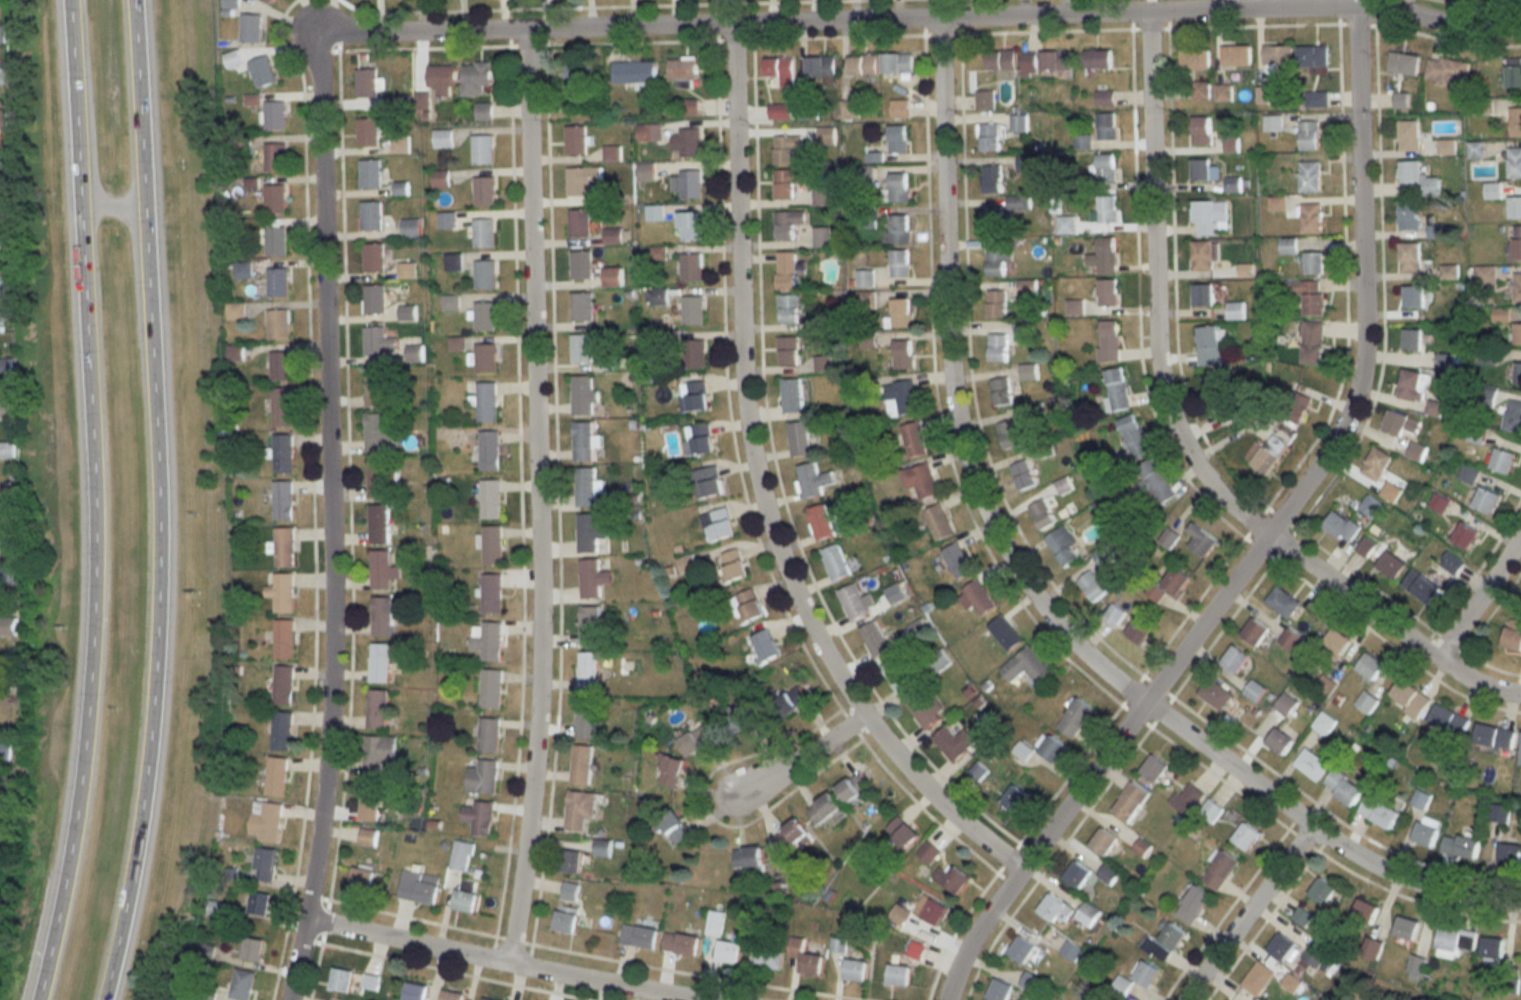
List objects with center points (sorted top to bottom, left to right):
building: (268, 0)
building: (264, 1)
building: (230, 3)
road: (1272, 5)
road: (922, 20)
building: (248, 27)
building: (1, 34)
building: (1235, 54)
building: (1277, 54)
building: (1312, 56)
building: (231, 59)
building: (1098, 59)
building: (1194, 59)
building: (1001, 60)
building: (897, 62)
building: (1029, 63)
building: (1056, 63)
building: (1404, 63)
building: (862, 64)
building: (820, 67)
building: (682, 69)
building: (780, 70)
building: (1447, 71)
building: (260, 72)
building: (634, 72)
building: (1, 75)
building: (1513, 75)
building: (474, 77)
building: (576, 77)
building: (440, 81)
building: (365, 83)
building: (1200, 90)
building: (1104, 98)
building: (985, 99)
building: (1314, 99)
building: (1400, 100)
building: (690, 107)
building: (900, 108)
building: (849, 109)
building: (482, 110)
building: (780, 111)
building: (273, 115)
building: (1, 118)
building: (1516, 121)
building: (1272, 123)
building: (1018, 124)
building: (1106, 126)
building: (366, 131)
building: (1201, 131)
building: (1309, 135)
building: (1409, 135)
building: (441, 138)
building: (989, 138)
building: (898, 139)
building: (575, 140)
building: (690, 142)
building: (398, 144)
building: (481, 149)
building: (1476, 150)
building: (787, 151)
building: (611, 153)
building: (273, 157)
building: (2, 159)
building: (1514, 163)
building: (1105, 168)
building: (1200, 170)
building: (644, 172)
building: (368, 174)
building: (1310, 177)
building: (438, 178)
building: (991, 179)
building: (582, 180)
building: (787, 181)
building: (1417, 181)
building: (687, 184)
building: (898, 187)
building: (399, 189)
building: (483, 191)
building: (605, 196)
building: (821, 197)
building: (273, 199)
building: (3, 202)
road: (113, 205)
building: (1515, 207)
building: (1107, 209)
building: (653, 213)
building: (370, 216)
building: (1409, 216)
building: (1208, 217)
building: (1311, 219)
building: (446, 220)
building: (996, 221)
building: (578, 224)
building: (787, 224)
building: (1065, 225)
building: (690, 226)
building: (409, 228)
building: (898, 229)
building: (1435, 232)
building: (483, 233)
building: (613, 236)
building: (823, 237)
building: (275, 241)
building: (3, 242)
building: (1514, 245)
building: (1104, 256)
building: (1203, 256)
building: (998, 257)
building: (372, 258)
building: (1410, 258)
building: (1314, 263)
building: (899, 264)
building: (580, 266)
building: (691, 267)
building: (786, 270)
building: (405, 271)
building: (484, 275)
building: (612, 277)
building: (277, 283)
building: (4, 284)
building: (1027, 287)
building: (1517, 288)
building: (1105, 292)
building: (1203, 296)
building: (1311, 297)
building: (1415, 297)
building: (373, 300)
building: (996, 304)
building: (581, 307)
building: (788, 309)
building: (692, 310)
building: (901, 314)
building: (484, 316)
building: (277, 324)
building: (0, 325)
building: (1517, 335)
building: (1412, 339)
building: (1108, 341)
building: (377, 342)
building: (1312, 343)
building: (1209, 346)
building: (997, 347)
building: (581, 348)
building: (788, 351)
building: (693, 354)
building: (903, 354)
building: (484, 358)
building: (279, 365)
building: (5, 368)
building: (1028, 372)
building: (1518, 374)
building: (1412, 384)
building: (378, 387)
building: (1216, 389)
building: (1116, 390)
building: (1000, 391)
building: (582, 395)
building: (694, 396)
building: (792, 396)
building: (901, 399)
building: (486, 402)
building: (281, 407)
building: (1297, 407)
building: (1433, 408)
building: (5, 409)
building: (1234, 412)
building: (1513, 416)
building: (1400, 424)
building: (378, 433)
building: (1009, 434)
building: (1476, 435)
building: (1133, 437)
building: (798, 439)
building: (699, 440)
building: (913, 440)
building: (582, 441)
road: (1180, 442)
building: (5, 450)
building: (488, 451)
building: (1415, 451)
building: (282, 454)
building: (1265, 454)
building: (1503, 461)
building: (1376, 464)
building: (1468, 474)
building: (1023, 475)
building: (378, 479)
building: (813, 481)
building: (706, 483)
building: (920, 483)
building: (1156, 483)
building: (585, 487)
road: (758, 492)
building: (1391, 492)
building: (6, 493)
road: (536, 498)
building: (490, 499)
building: (1486, 500)
road: (159, 501)
building: (282, 501)
road: (94, 502)
building: (1438, 503)
building: (1370, 507)
building: (1042, 514)
road: (328, 522)
building: (821, 523)
building: (938, 523)
building: (378, 524)
building: (717, 526)
building: (1342, 526)
building: (588, 533)
building: (6, 535)
building: (1465, 536)
building: (1168, 539)
building: (1201, 541)
road: (1266, 543)
building: (491, 545)
building: (284, 547)
building: (1063, 547)
building: (1365, 547)
building: (1103, 556)
building: (957, 561)
building: (835, 563)
building: (685, 564)
building: (1451, 564)
building: (1391, 565)
building: (732, 567)
building: (382, 570)
building: (593, 576)
building: (1175, 582)
building: (1091, 586)
building: (1420, 586)
building: (281, 592)
building: (491, 593)
road: (1031, 594)
building: (979, 598)
road: (1480, 600)
building: (852, 602)
building: (1282, 602)
building: (746, 607)
building: (1113, 614)
building: (381, 616)
building: (589, 626)
building: (1139, 630)
building: (1255, 631)
building: (1005, 632)
building: (1513, 636)
building: (283, 639)
building: (874, 639)
building: (1289, 639)
building: (487, 640)
building: (1333, 646)
building: (765, 647)
building: (1235, 659)
building: (379, 662)
building: (1026, 666)
building: (1370, 667)
building: (587, 672)
building: (897, 676)
building: (282, 685)
building: (1325, 686)
building: (490, 689)
building: (1254, 690)
building: (1214, 694)
building: (1409, 698)
building: (791, 702)
building: (1285, 704)
building: (377, 709)
building: (925, 710)
building: (1075, 718)
building: (584, 719)
building: (1448, 719)
building: (745, 721)
building: (1323, 723)
building: (280, 731)
building: (488, 735)
building: (1494, 737)
building: (696, 741)
building: (1279, 742)
building: (953, 743)
building: (1052, 750)
building: (4, 751)
building: (378, 755)
road: (800, 756)
building: (581, 765)
building: (1310, 765)
building: (1154, 769)
building: (670, 772)
building: (978, 772)
building: (276, 777)
building: (482, 778)
building: (1342, 787)
building: (854, 788)
building: (1420, 799)
building: (1015, 800)
building: (1186, 800)
building: (369, 802)
building: (1130, 802)
building: (579, 810)
building: (1210, 811)
building: (825, 812)
building: (1378, 812)
building: (1500, 813)
building: (478, 818)
building: (264, 820)
building: (672, 830)
building: (1426, 832)
building: (901, 834)
building: (792, 836)
building: (366, 837)
building: (1246, 837)
building: (1104, 842)
building: (1461, 846)
building: (928, 852)
building: (1510, 855)
building: (460, 856)
building: (748, 857)
building: (570, 861)
building: (264, 864)
building: (1220, 871)
building: (1107, 874)
building: (1077, 875)
building: (361, 880)
building: (419, 888)
building: (1321, 890)
building: (568, 891)
building: (464, 897)
building: (259, 903)
building: (1193, 905)
building: (214, 908)
building: (1055, 909)
building: (1363, 910)
building: (935, 912)
road: (1247, 913)
building: (1087, 914)
building: (899, 915)
building: (1302, 916)
building: (565, 922)
building: (1406, 927)
building: (638, 936)
building: (1456, 941)
building: (1167, 943)
building: (680, 944)
building: (838, 945)
building: (1493, 945)
building: (1279, 946)
building: (1371, 947)
building: (252, 949)
building: (1022, 950)
building: (916, 951)
building: (1071, 951)
building: (727, 952)
building: (1313, 955)
building: (766, 958)
building: (805, 959)
road: (489, 961)
building: (1419, 965)
building: (855, 971)
building: (1146, 975)
building: (898, 976)
building: (1254, 979)
building: (339, 981)
building: (1288, 981)
building: (370, 982)
building: (1030, 982)
building: (241, 984)
building: (1000, 991)
building: (414, 992)
building: (452, 995)
building: (488, 999)

